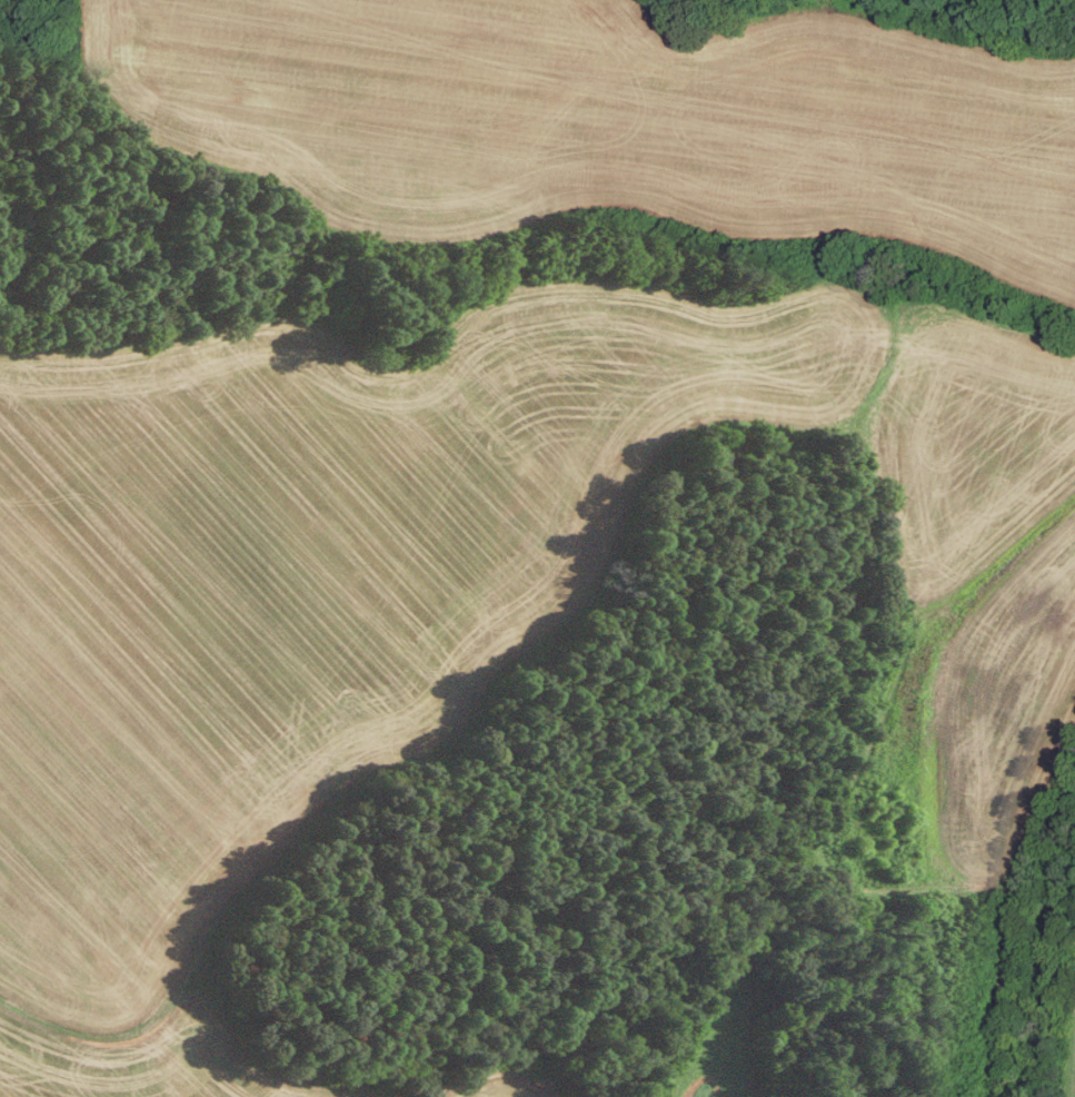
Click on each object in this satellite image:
crop: (609, 123)
crop: (484, 620)
road: (1012, 920)
crop: (724, 1036)

